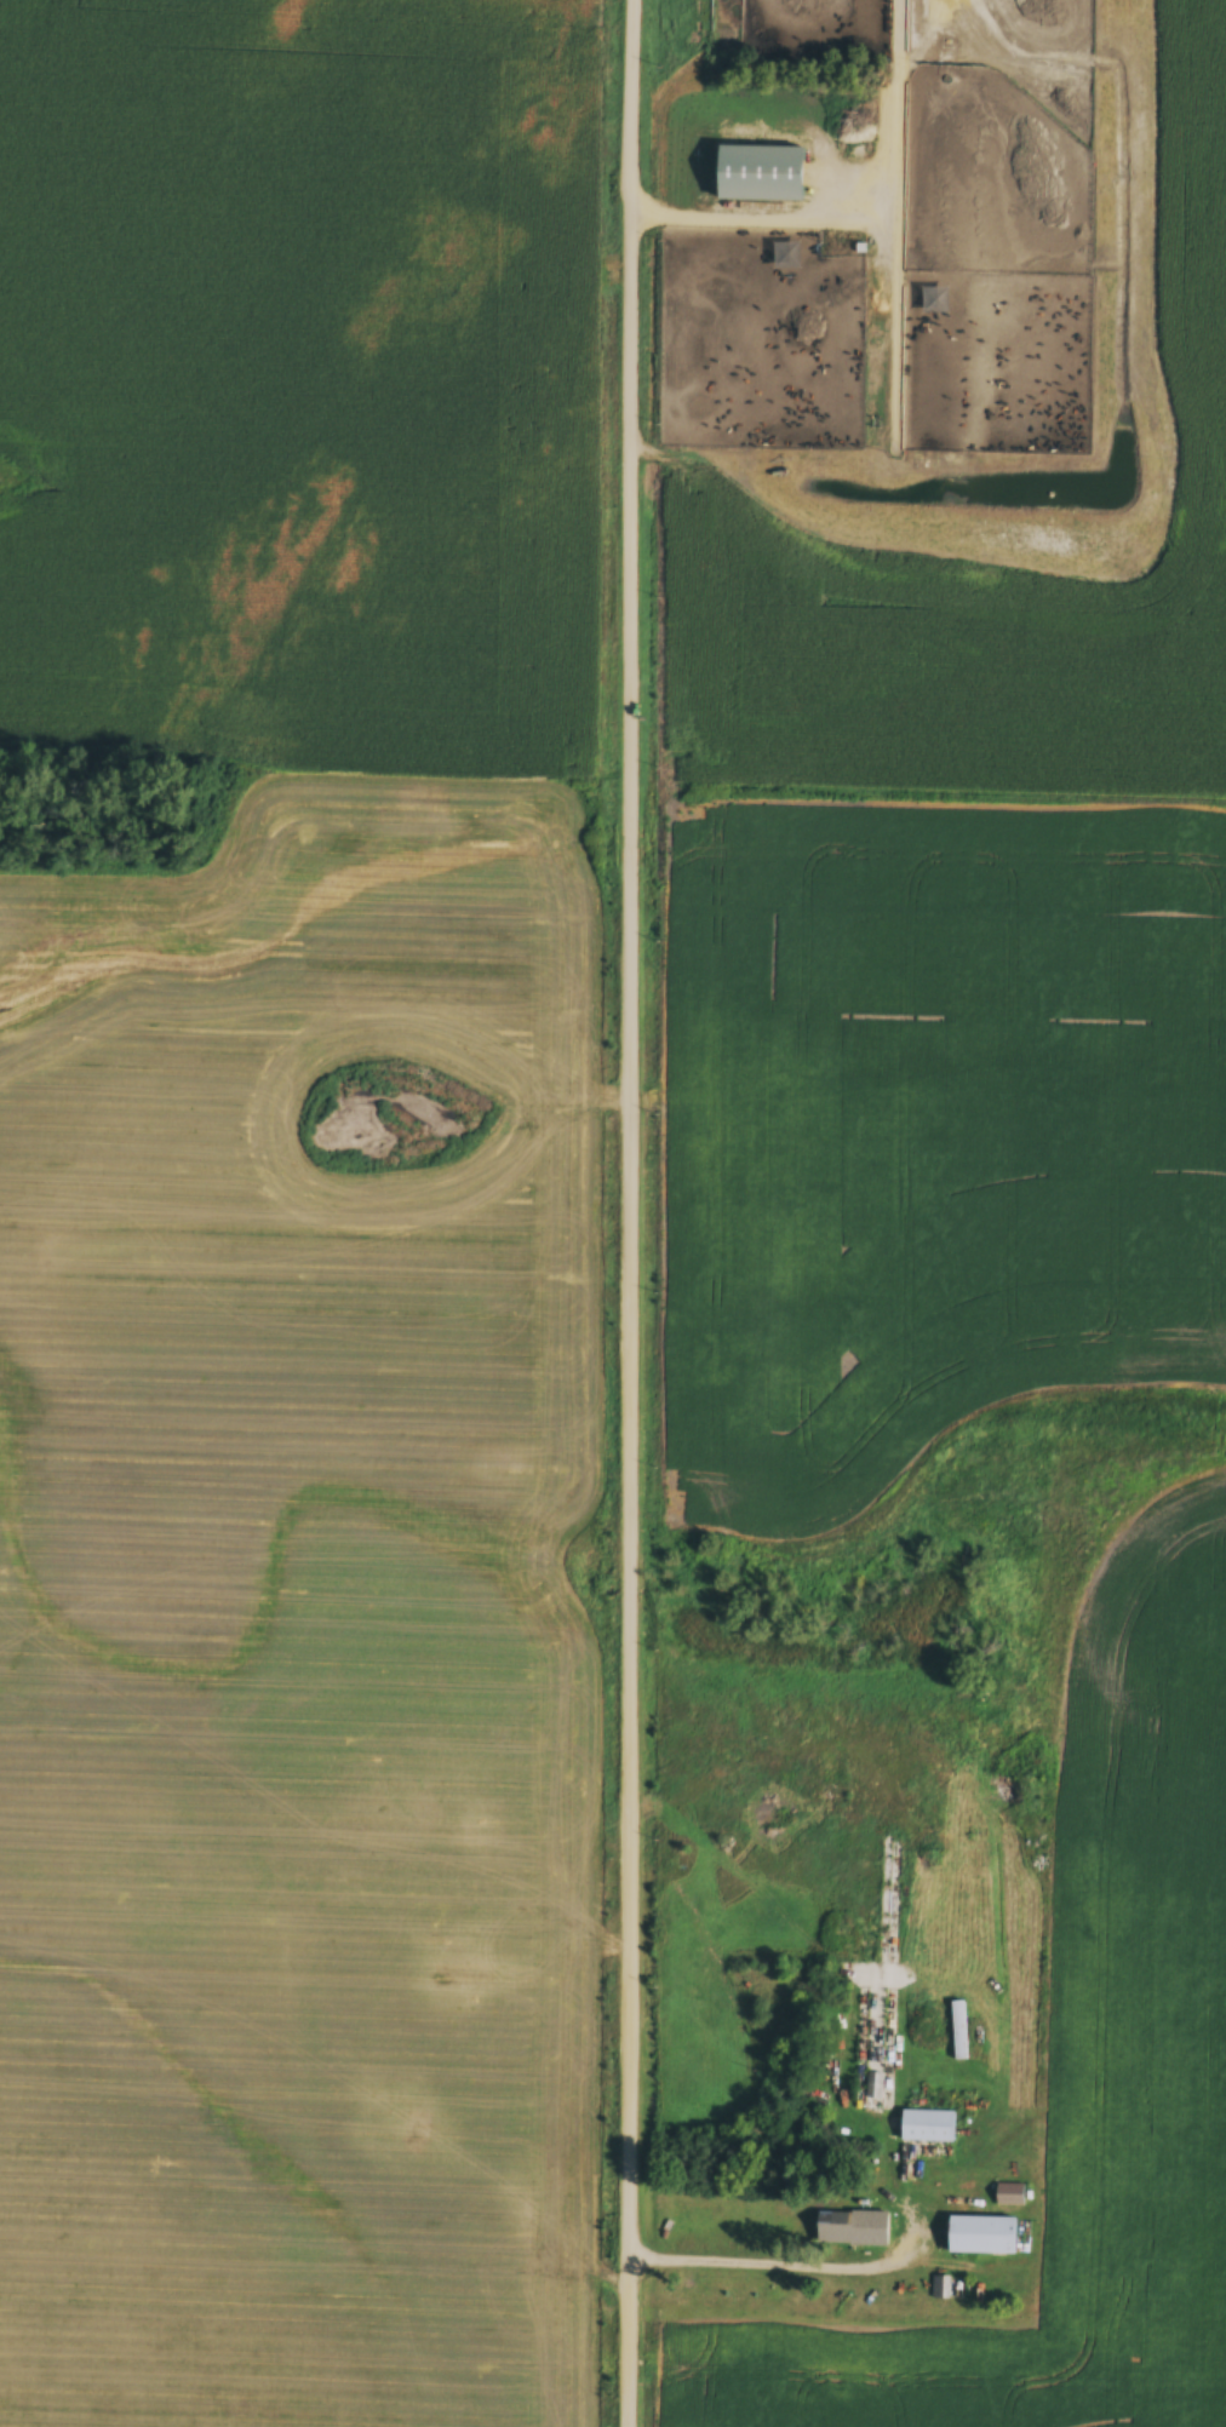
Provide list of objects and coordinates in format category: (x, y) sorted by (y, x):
road: (859, 218)
road: (632, 1212)
building: (927, 2127)
building: (1009, 2196)
building: (980, 2237)

